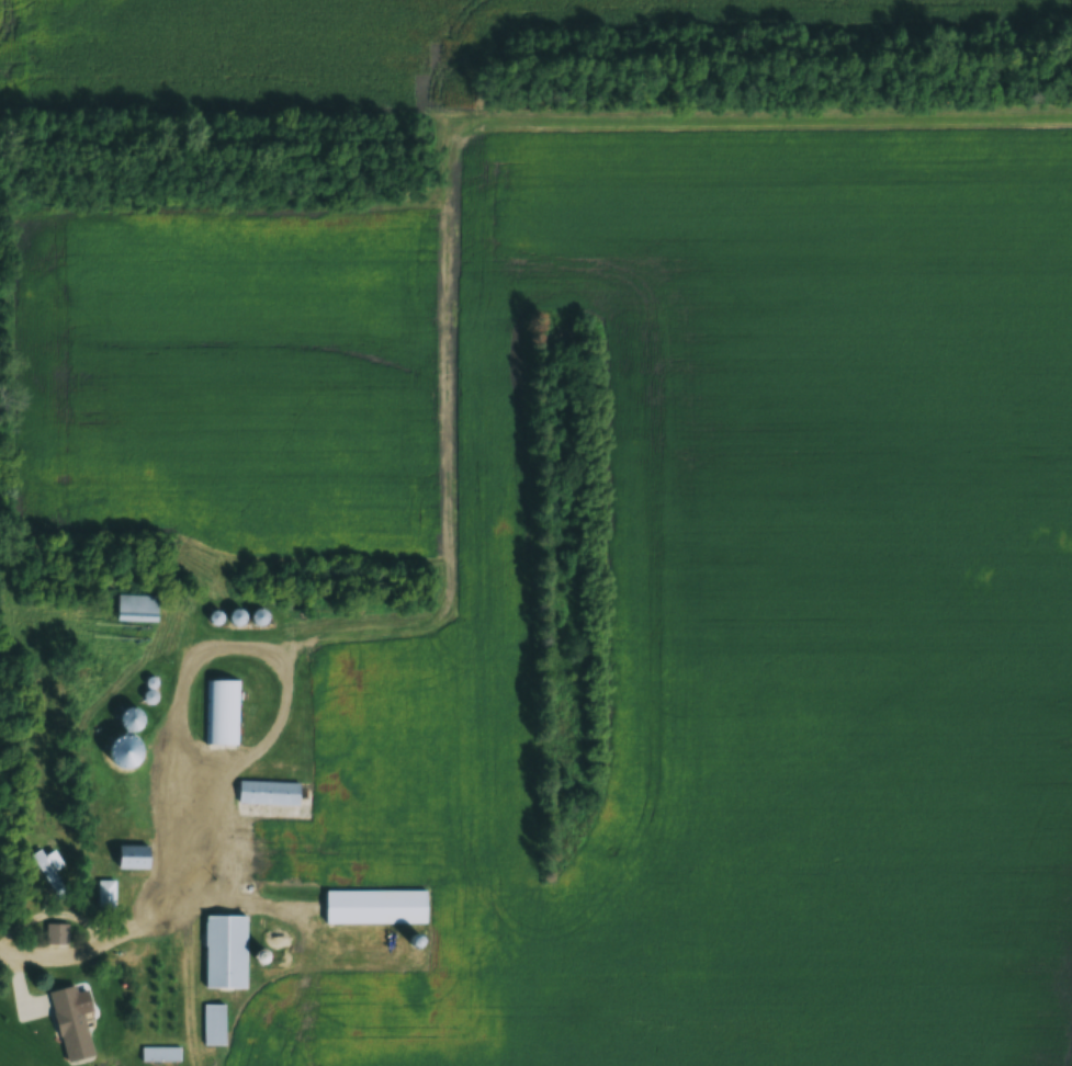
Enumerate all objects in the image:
building: (134, 606)
building: (256, 615)
building: (221, 711)
building: (126, 718)
building: (122, 779)
building: (266, 791)
building: (129, 855)
building: (47, 866)
building: (104, 893)
building: (373, 906)
building: (55, 932)
building: (223, 949)
building: (68, 1021)

